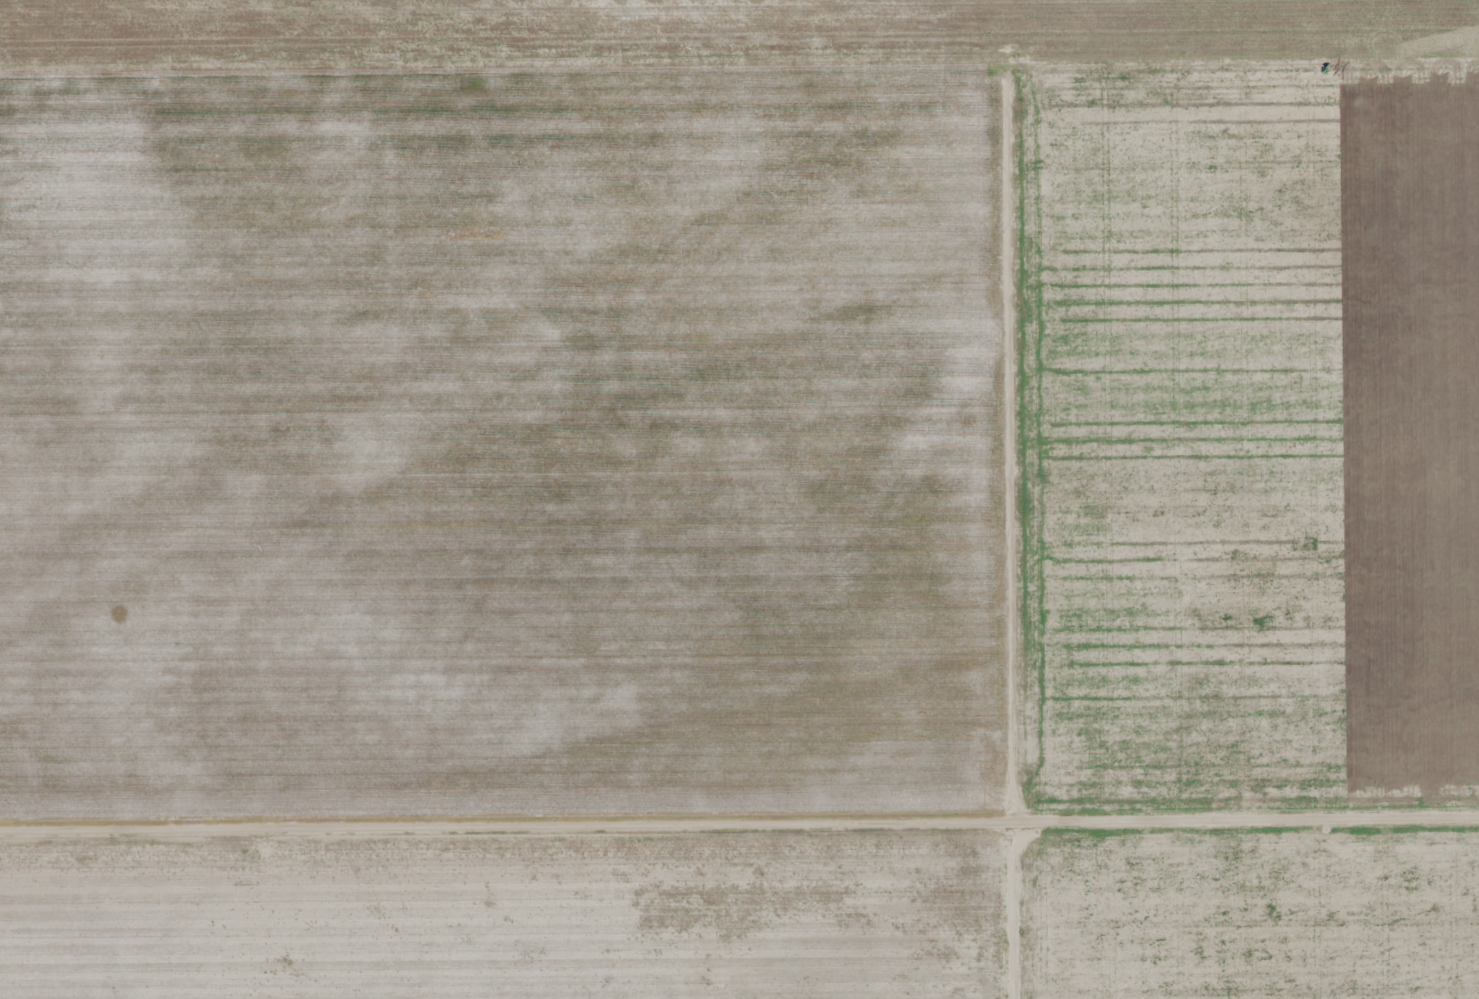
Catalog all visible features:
road: (739, 799)

